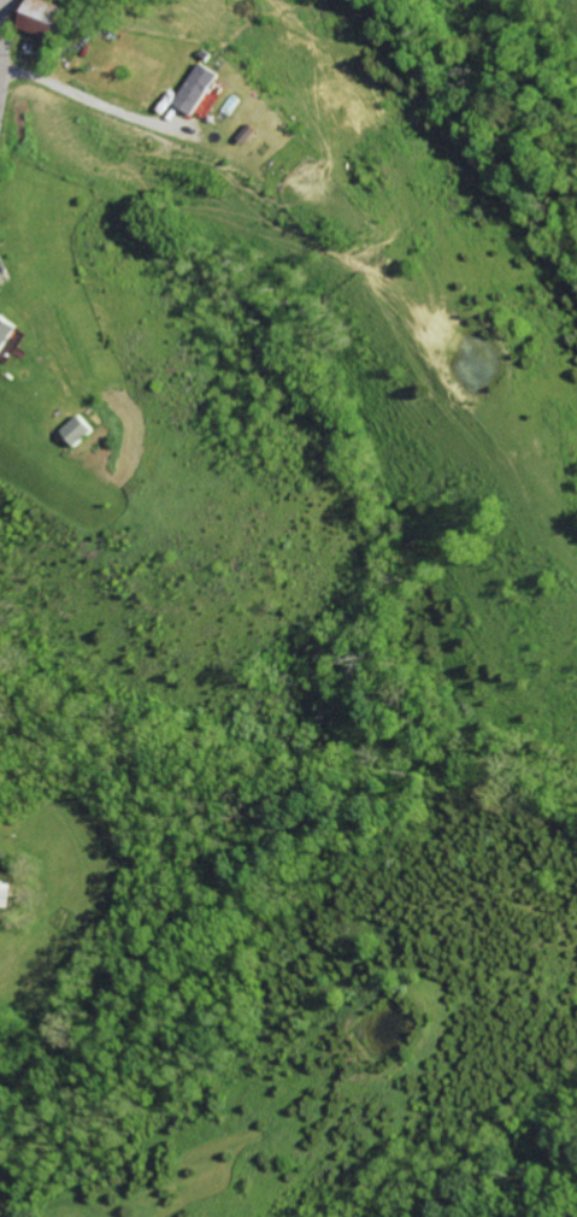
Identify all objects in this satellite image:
building: (48, 18)
road: (5, 55)
building: (200, 89)
road: (86, 96)
building: (10, 337)
building: (82, 430)

